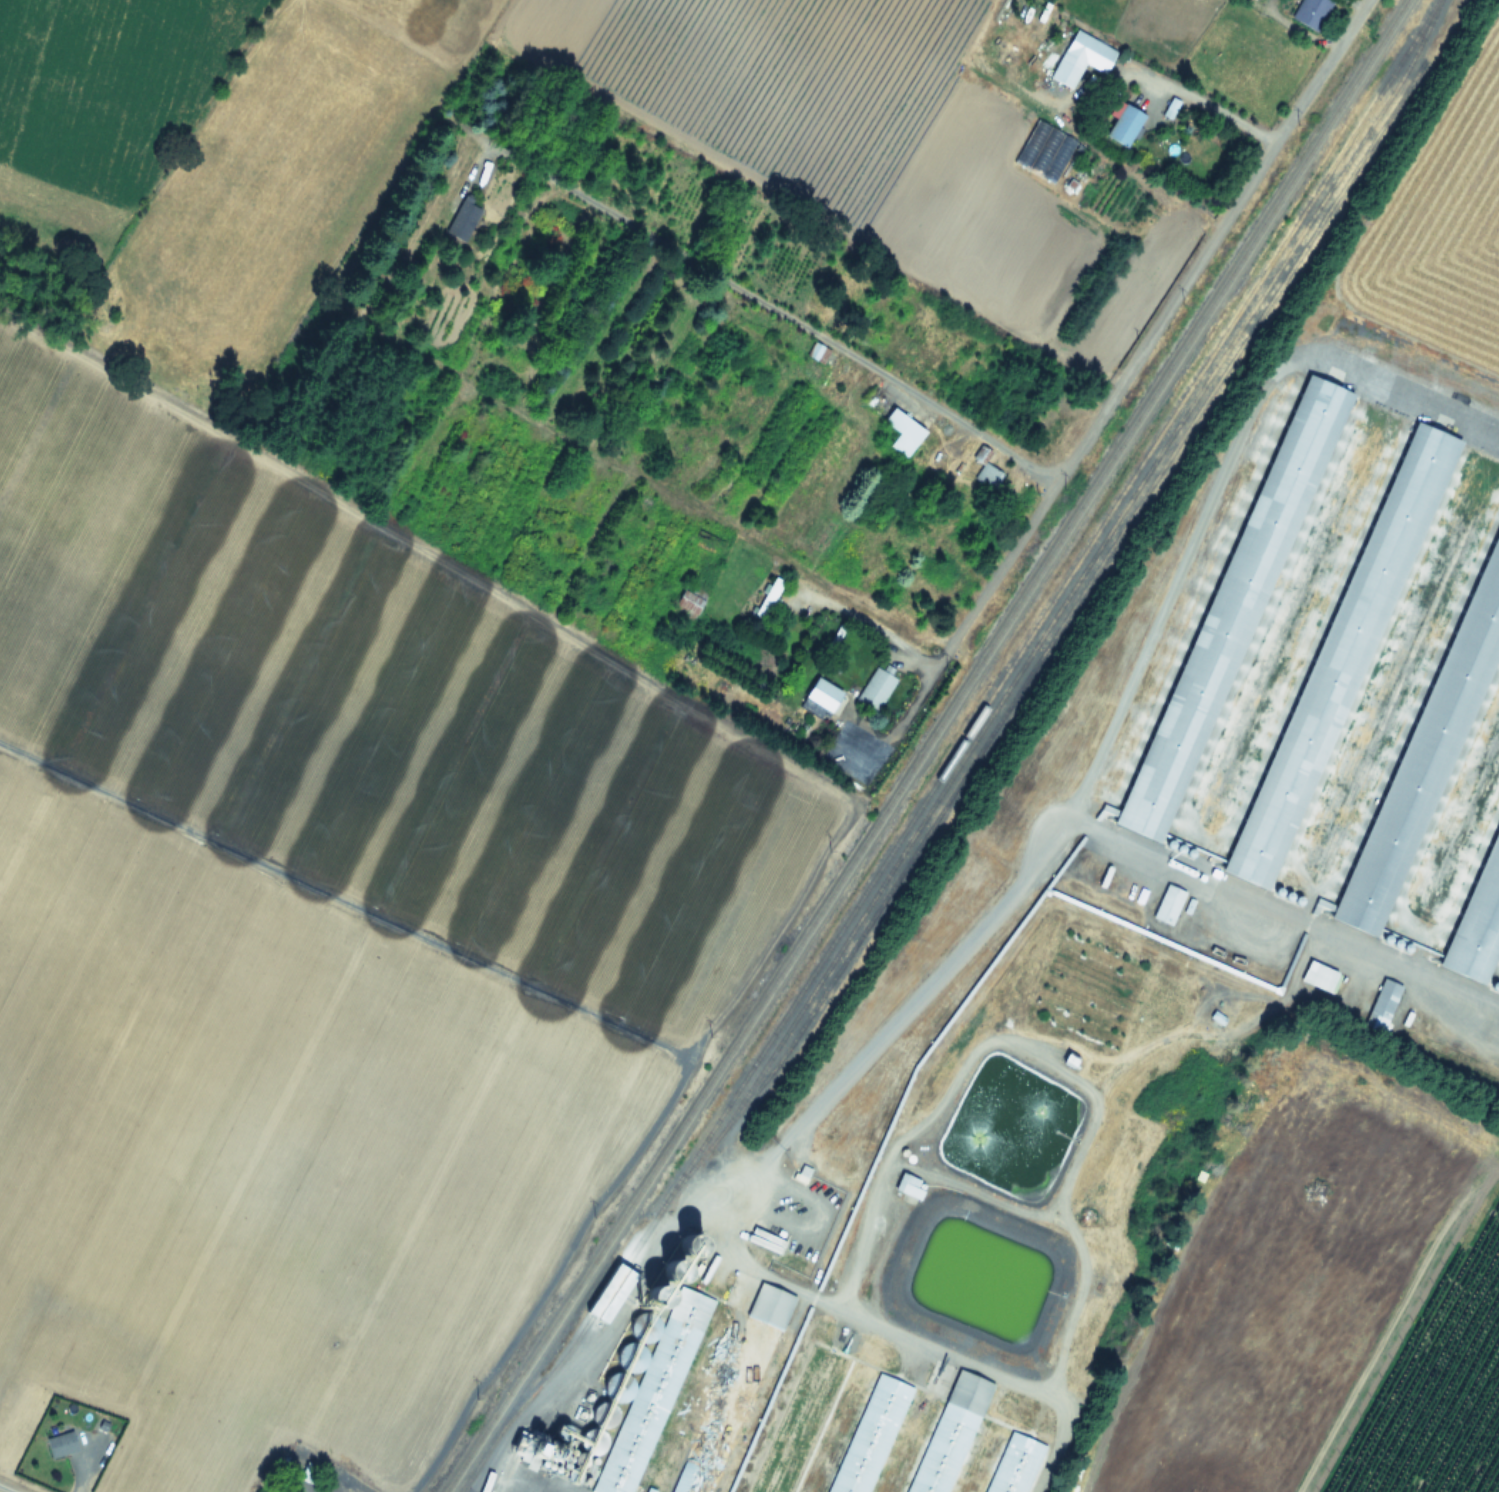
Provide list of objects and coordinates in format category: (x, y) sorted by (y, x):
building: (1310, 12)
building: (1080, 57)
road: (1205, 99)
building: (1170, 107)
building: (1123, 124)
building: (1044, 152)
crop: (1436, 211)
road: (775, 308)
building: (818, 353)
road: (1113, 394)
building: (898, 431)
building: (985, 470)
road: (1217, 479)
railway: (1081, 596)
building: (766, 599)
railway: (1064, 599)
building: (688, 601)
crop: (490, 606)
building: (1232, 608)
road: (871, 623)
building: (1341, 655)
building: (875, 688)
building: (822, 694)
railway: (925, 745)
railway: (955, 751)
building: (1428, 751)
building: (1168, 905)
road: (1285, 914)
building: (1483, 934)
building: (1318, 977)
building: (1382, 1005)
crop: (1490, 1139)
building: (909, 1186)
road: (731, 1200)
building: (609, 1295)
crop: (1328, 1317)
building: (648, 1378)
building: (732, 1389)
building: (797, 1420)
building: (945, 1432)
building: (868, 1435)
road: (303, 1438)
building: (98, 1443)
building: (60, 1445)
building: (1012, 1464)
road: (520, 1475)

